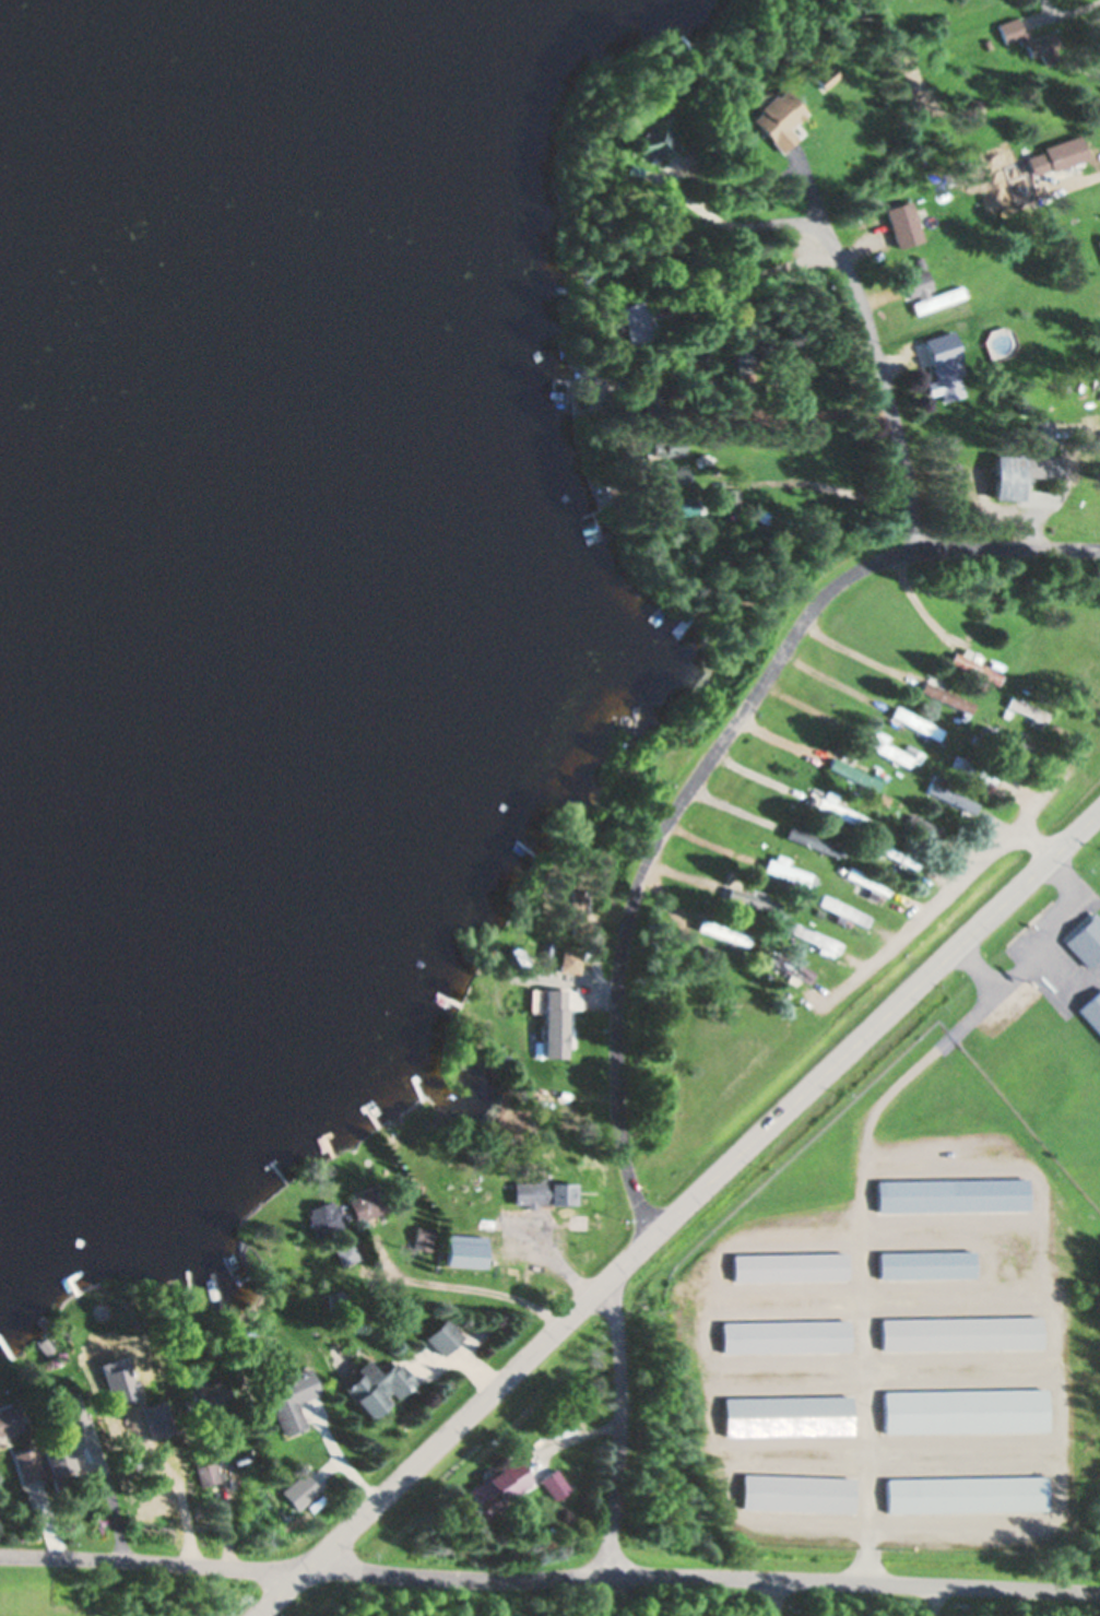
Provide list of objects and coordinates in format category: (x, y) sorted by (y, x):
building: (1024, 36)
building: (825, 74)
building: (778, 118)
building: (657, 131)
building: (1056, 154)
building: (902, 223)
building: (1099, 241)
building: (919, 262)
building: (925, 291)
building: (634, 322)
road: (871, 341)
building: (743, 352)
building: (700, 357)
building: (944, 366)
building: (797, 379)
building: (1062, 387)
building: (646, 393)
building: (1026, 406)
building: (1039, 432)
building: (666, 447)
building: (1019, 472)
building: (669, 475)
building: (720, 494)
building: (678, 504)
building: (758, 516)
building: (972, 667)
building: (903, 676)
building: (945, 697)
building: (1025, 709)
building: (914, 722)
building: (974, 740)
building: (1004, 740)
building: (883, 748)
building: (914, 756)
road: (703, 764)
building: (973, 768)
building: (852, 772)
building: (876, 772)
building: (947, 794)
building: (879, 797)
building: (904, 806)
building: (838, 809)
building: (923, 825)
building: (811, 840)
road: (1030, 841)
building: (892, 854)
building: (785, 870)
road: (956, 880)
building: (865, 881)
building: (752, 899)
building: (578, 905)
building: (840, 909)
building: (723, 931)
building: (814, 939)
building: (1086, 940)
building: (792, 943)
building: (706, 953)
building: (571, 957)
building: (786, 968)
building: (1092, 1010)
building: (565, 1057)
building: (502, 1059)
building: (529, 1194)
building: (561, 1194)
building: (953, 1195)
building: (367, 1204)
road: (674, 1208)
building: (323, 1218)
building: (419, 1238)
building: (343, 1253)
building: (463, 1253)
building: (926, 1264)
building: (790, 1266)
building: (333, 1301)
building: (159, 1305)
building: (215, 1305)
building: (100, 1331)
building: (959, 1333)
building: (784, 1336)
building: (440, 1338)
building: (47, 1346)
building: (374, 1388)
building: (201, 1395)
building: (286, 1399)
building: (961, 1412)
building: (785, 1416)
building: (9, 1420)
road: (618, 1427)
building: (58, 1437)
building: (23, 1463)
building: (202, 1472)
building: (549, 1483)
building: (492, 1488)
building: (295, 1491)
building: (794, 1494)
building: (961, 1494)
building: (256, 1495)
road: (149, 1562)
road: (699, 1574)
road: (766, 1596)

